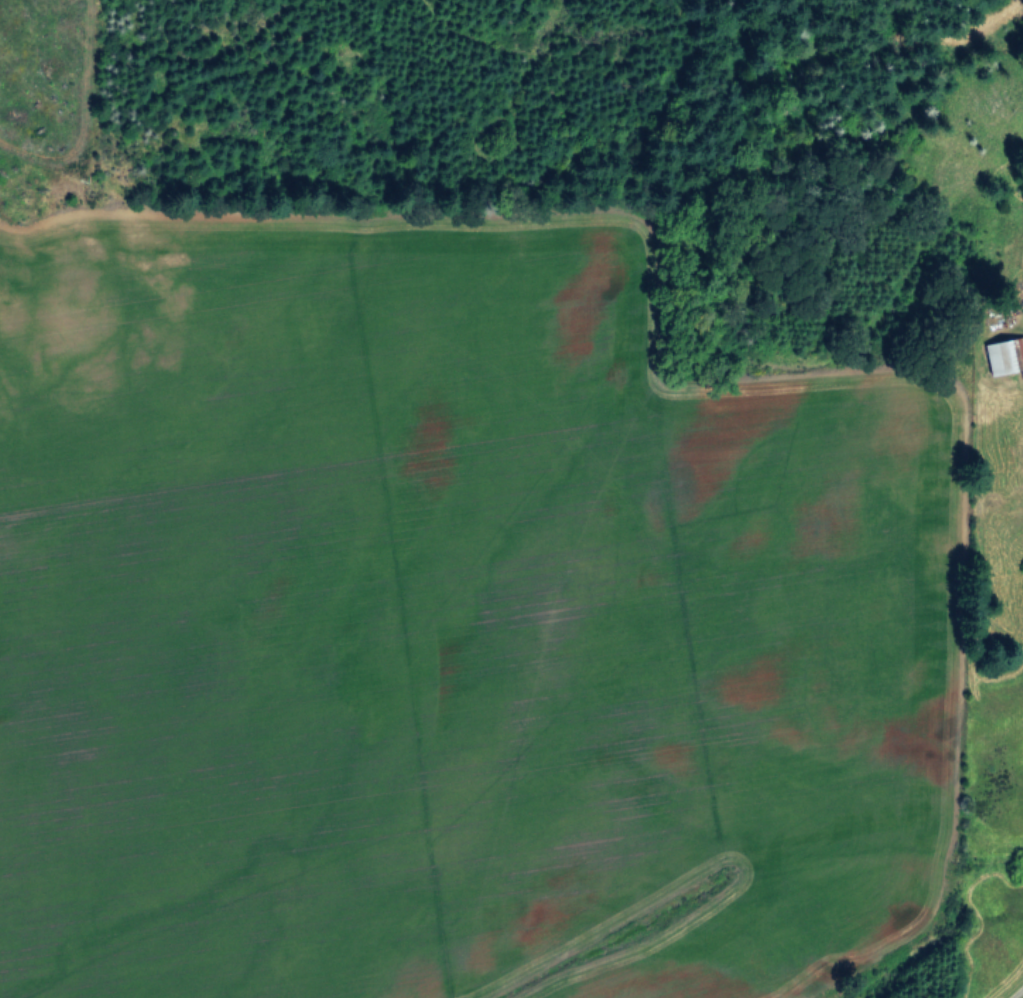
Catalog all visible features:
crop: (431, 621)
road: (1019, 993)

